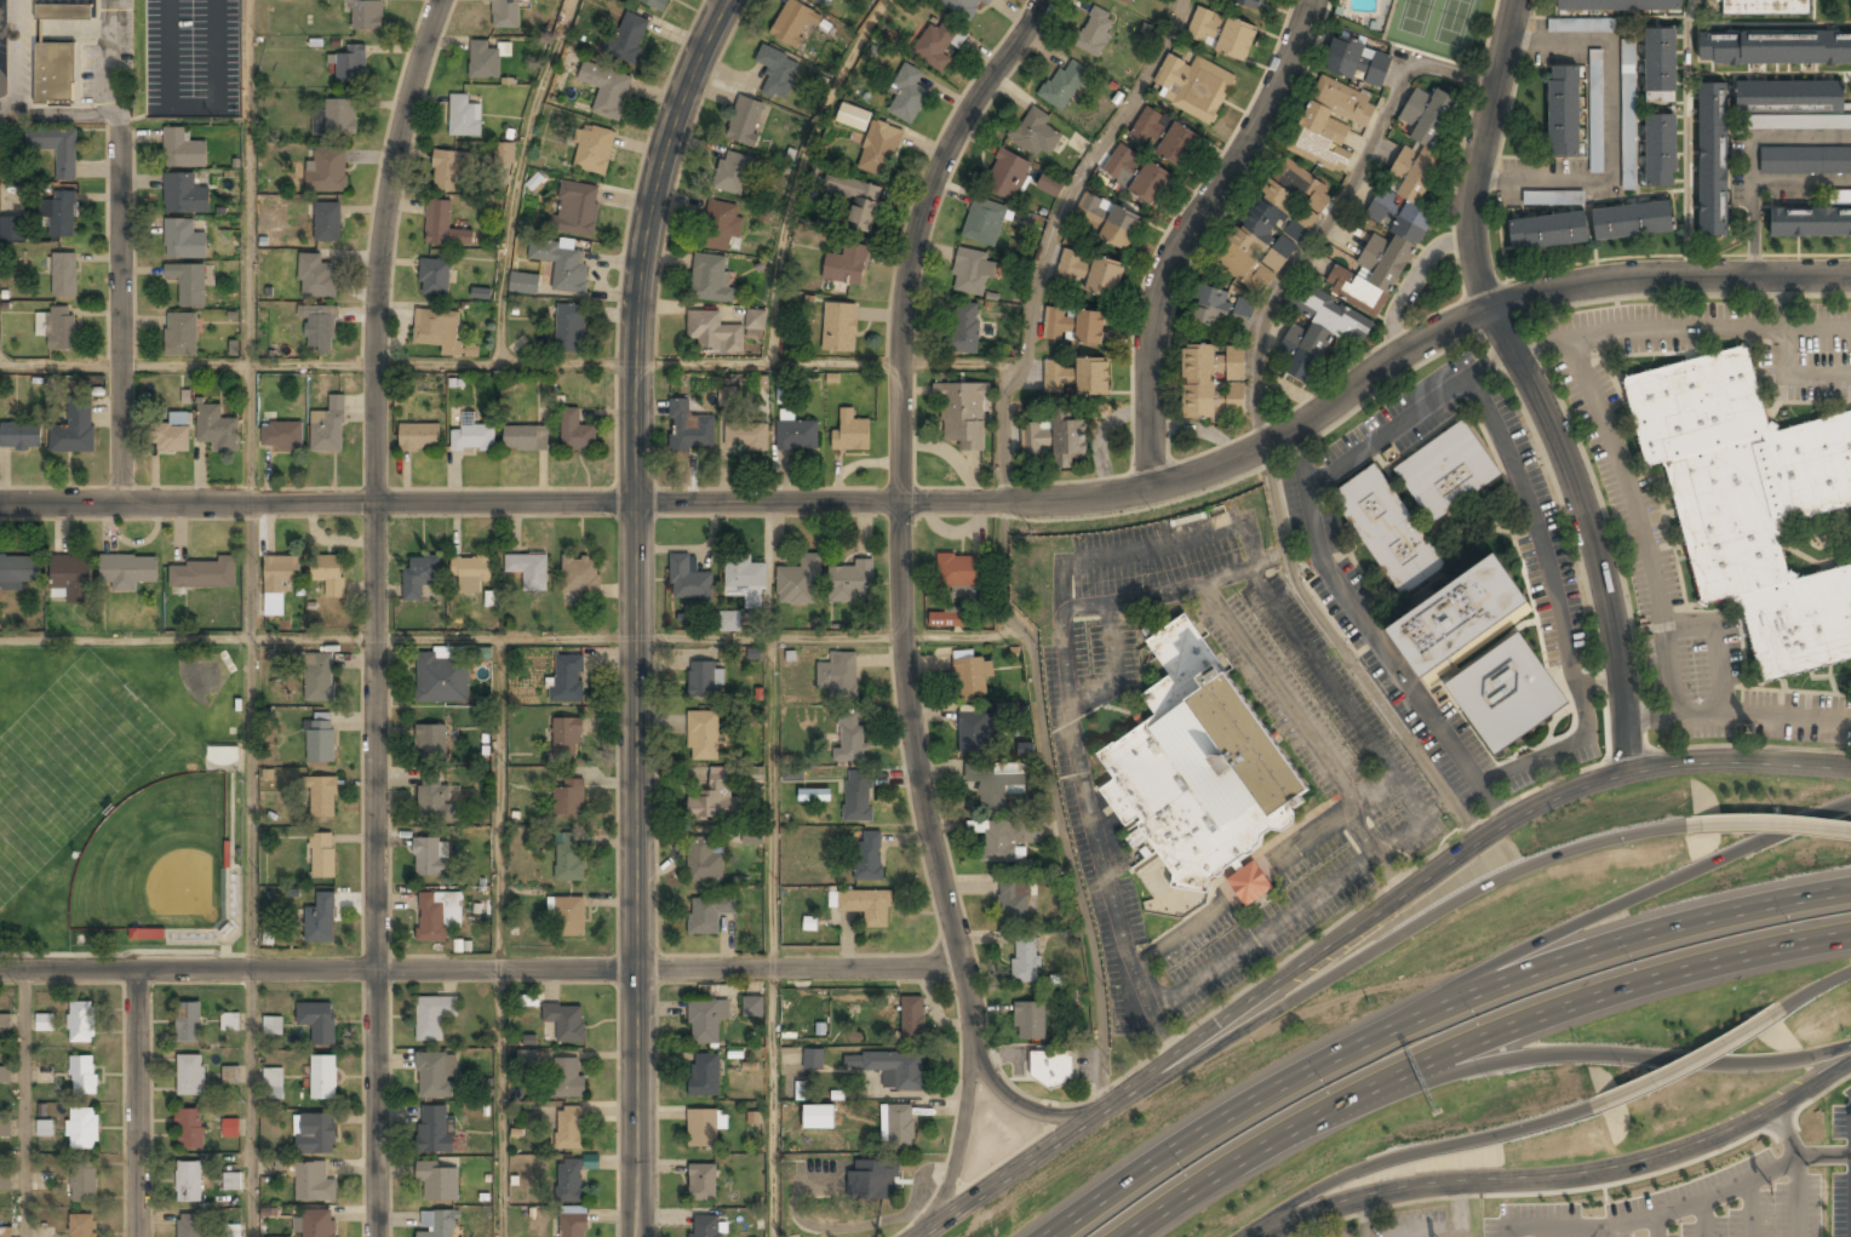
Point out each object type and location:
building: (821, 1)
building: (1127, 1)
building: (655, 4)
building: (1249, 4)
building: (963, 6)
building: (1618, 6)
building: (1766, 7)
building: (63, 13)
building: (365, 15)
building: (504, 15)
building: (793, 23)
building: (1580, 25)
building: (1095, 32)
building: (1220, 33)
building: (627, 39)
building: (939, 44)
building: (1775, 48)
building: (483, 61)
building: (1357, 63)
building: (351, 64)
building: (1661, 65)
building: (778, 71)
building: (55, 73)
building: (1065, 84)
building: (1194, 86)
building: (606, 88)
building: (906, 95)
building: (1789, 96)
building: (1595, 110)
building: (1564, 113)
road: (11, 114)
building: (1628, 114)
building: (464, 116)
building: (852, 116)
building: (337, 118)
building: (745, 121)
building: (1800, 124)
building: (1035, 132)
building: (1168, 136)
building: (56, 149)
building: (183, 149)
building: (594, 149)
building: (879, 149)
building: (504, 151)
building: (1660, 151)
building: (1712, 160)
building: (1822, 161)
building: (447, 170)
building: (326, 171)
building: (732, 172)
road: (798, 172)
building: (1007, 174)
building: (1136, 176)
road: (517, 178)
building: (1050, 184)
building: (1296, 188)
building: (183, 194)
building: (1553, 197)
building: (856, 200)
road: (119, 204)
building: (1397, 205)
building: (575, 208)
building: (61, 212)
road: (1333, 214)
building: (1633, 221)
building: (327, 222)
building: (984, 222)
building: (1110, 222)
building: (1810, 222)
building: (442, 225)
building: (720, 225)
building: (12, 228)
road: (1186, 231)
building: (1548, 231)
road: (1053, 237)
building: (183, 240)
road: (250, 252)
building: (563, 264)
building: (846, 265)
building: (1070, 267)
building: (972, 273)
building: (64, 275)
building: (316, 276)
building: (434, 276)
building: (710, 279)
building: (1105, 279)
building: (523, 282)
building: (189, 284)
building: (1222, 310)
building: (755, 319)
building: (1055, 322)
building: (838, 326)
building: (58, 327)
building: (319, 328)
building: (571, 328)
building: (1090, 328)
road: (1681, 328)
building: (439, 330)
building: (965, 330)
building: (714, 333)
building: (1314, 334)
building: (180, 336)
road: (1416, 345)
building: (471, 351)
road: (1786, 357)
road: (766, 363)
road: (962, 363)
road: (316, 365)
building: (1077, 377)
building: (1214, 382)
road: (1532, 386)
building: (963, 414)
building: (328, 426)
building: (689, 426)
building: (216, 429)
building: (74, 430)
building: (850, 431)
building: (575, 433)
building: (797, 433)
building: (21, 436)
building: (282, 436)
building: (746, 436)
building: (170, 437)
building: (419, 437)
building: (472, 439)
building: (526, 439)
building: (1036, 439)
building: (1068, 439)
building: (1446, 473)
road: (505, 502)
building: (1750, 502)
road: (1639, 522)
building: (1386, 531)
building: (21, 569)
building: (128, 569)
building: (528, 571)
building: (958, 572)
building: (470, 573)
building: (202, 574)
building: (329, 574)
building: (419, 575)
building: (580, 575)
building: (70, 578)
parking lot: (1224, 579)
building: (688, 580)
building: (745, 580)
building: (277, 582)
building: (798, 582)
building: (850, 582)
road: (900, 608)
road: (635, 611)
road: (374, 614)
building: (946, 617)
building: (1455, 617)
building: (728, 620)
road: (124, 637)
road: (824, 638)
road: (441, 640)
road: (1714, 642)
building: (838, 675)
building: (319, 677)
building: (973, 677)
building: (442, 678)
building: (567, 678)
building: (705, 680)
building: (1505, 695)
road: (1737, 711)
building: (974, 733)
building: (567, 735)
building: (704, 735)
road: (772, 735)
road: (248, 737)
building: (850, 739)
building: (320, 740)
building: (431, 743)
building: (1025, 749)
building: (223, 755)
building: (1199, 764)
building: (791, 773)
parking lot: (1363, 778)
building: (996, 784)
building: (814, 795)
building: (858, 795)
building: (322, 796)
building: (568, 797)
building: (714, 797)
park: (121, 798)
building: (434, 801)
road: (500, 804)
road: (1770, 823)
building: (752, 835)
building: (1004, 838)
building: (322, 855)
building: (869, 855)
building: (430, 857)
building: (569, 857)
park: (156, 859)
building: (701, 859)
building: (1249, 884)
road: (1635, 898)
building: (1013, 900)
building: (865, 905)
building: (707, 914)
building: (435, 915)
building: (567, 915)
building: (320, 918)
road: (1359, 924)
building: (147, 933)
road: (1393, 939)
building: (1025, 960)
road: (481, 970)
road: (1818, 990)
building: (752, 1006)
road: (1432, 1014)
building: (432, 1016)
building: (912, 1019)
building: (705, 1020)
building: (1030, 1020)
building: (188, 1021)
building: (229, 1021)
building: (319, 1021)
building: (566, 1021)
building: (5, 1023)
building: (44, 1023)
building: (81, 1023)
building: (273, 1026)
road: (1471, 1043)
road: (1583, 1055)
building: (813, 1058)
building: (526, 1059)
road: (1691, 1063)
building: (1053, 1067)
building: (892, 1069)
building: (229, 1073)
building: (189, 1075)
building: (704, 1075)
building: (4, 1076)
building: (84, 1076)
building: (436, 1076)
building: (322, 1077)
building: (568, 1077)
building: (274, 1083)
building: (800, 1090)
road: (1020, 1100)
road: (137, 1103)
road: (24, 1104)
road: (250, 1104)
road: (498, 1104)
road: (773, 1104)
building: (5, 1124)
building: (896, 1127)
building: (45, 1128)
building: (82, 1128)
building: (189, 1128)
building: (230, 1128)
building: (568, 1128)
building: (434, 1129)
building: (701, 1129)
building: (315, 1134)
road: (1414, 1152)
building: (591, 1162)
parking lot: (1841, 1162)
road: (1795, 1170)
road: (1566, 1173)
building: (569, 1180)
building: (872, 1180)
building: (4, 1181)
building: (84, 1181)
building: (189, 1181)
building: (231, 1181)
building: (313, 1181)
building: (439, 1181)
building: (703, 1182)
road: (1656, 1216)
building: (315, 1222)
building: (437, 1224)
building: (84, 1225)
building: (573, 1225)
building: (189, 1226)
building: (705, 1226)
building: (233, 1230)
building: (5, 1232)

